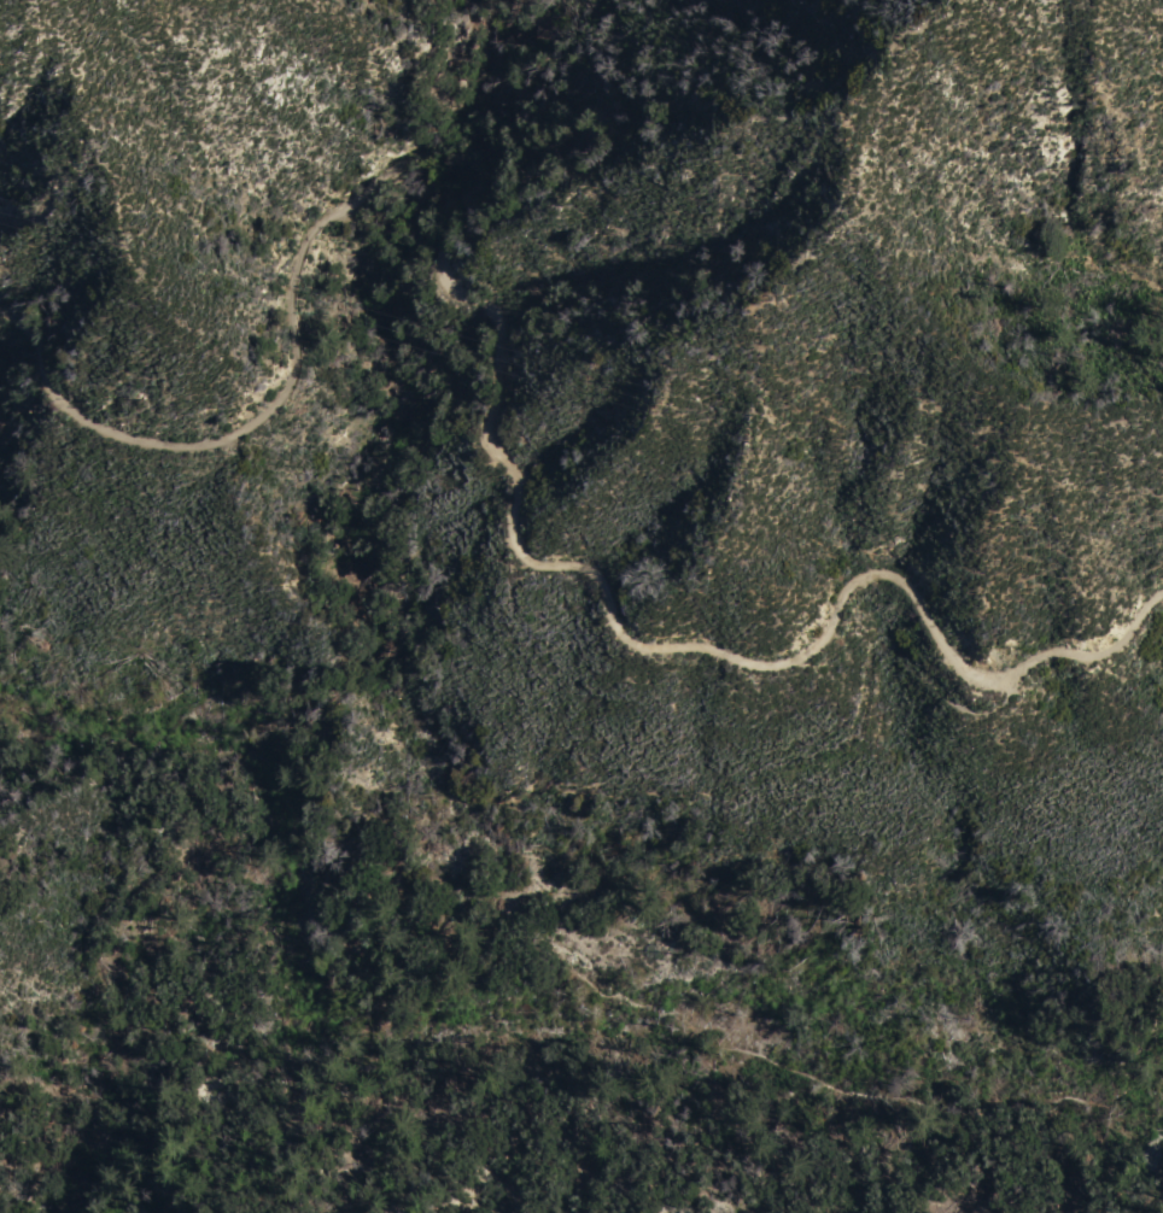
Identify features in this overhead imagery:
road: (497, 341)
road: (737, 781)
road: (557, 959)

